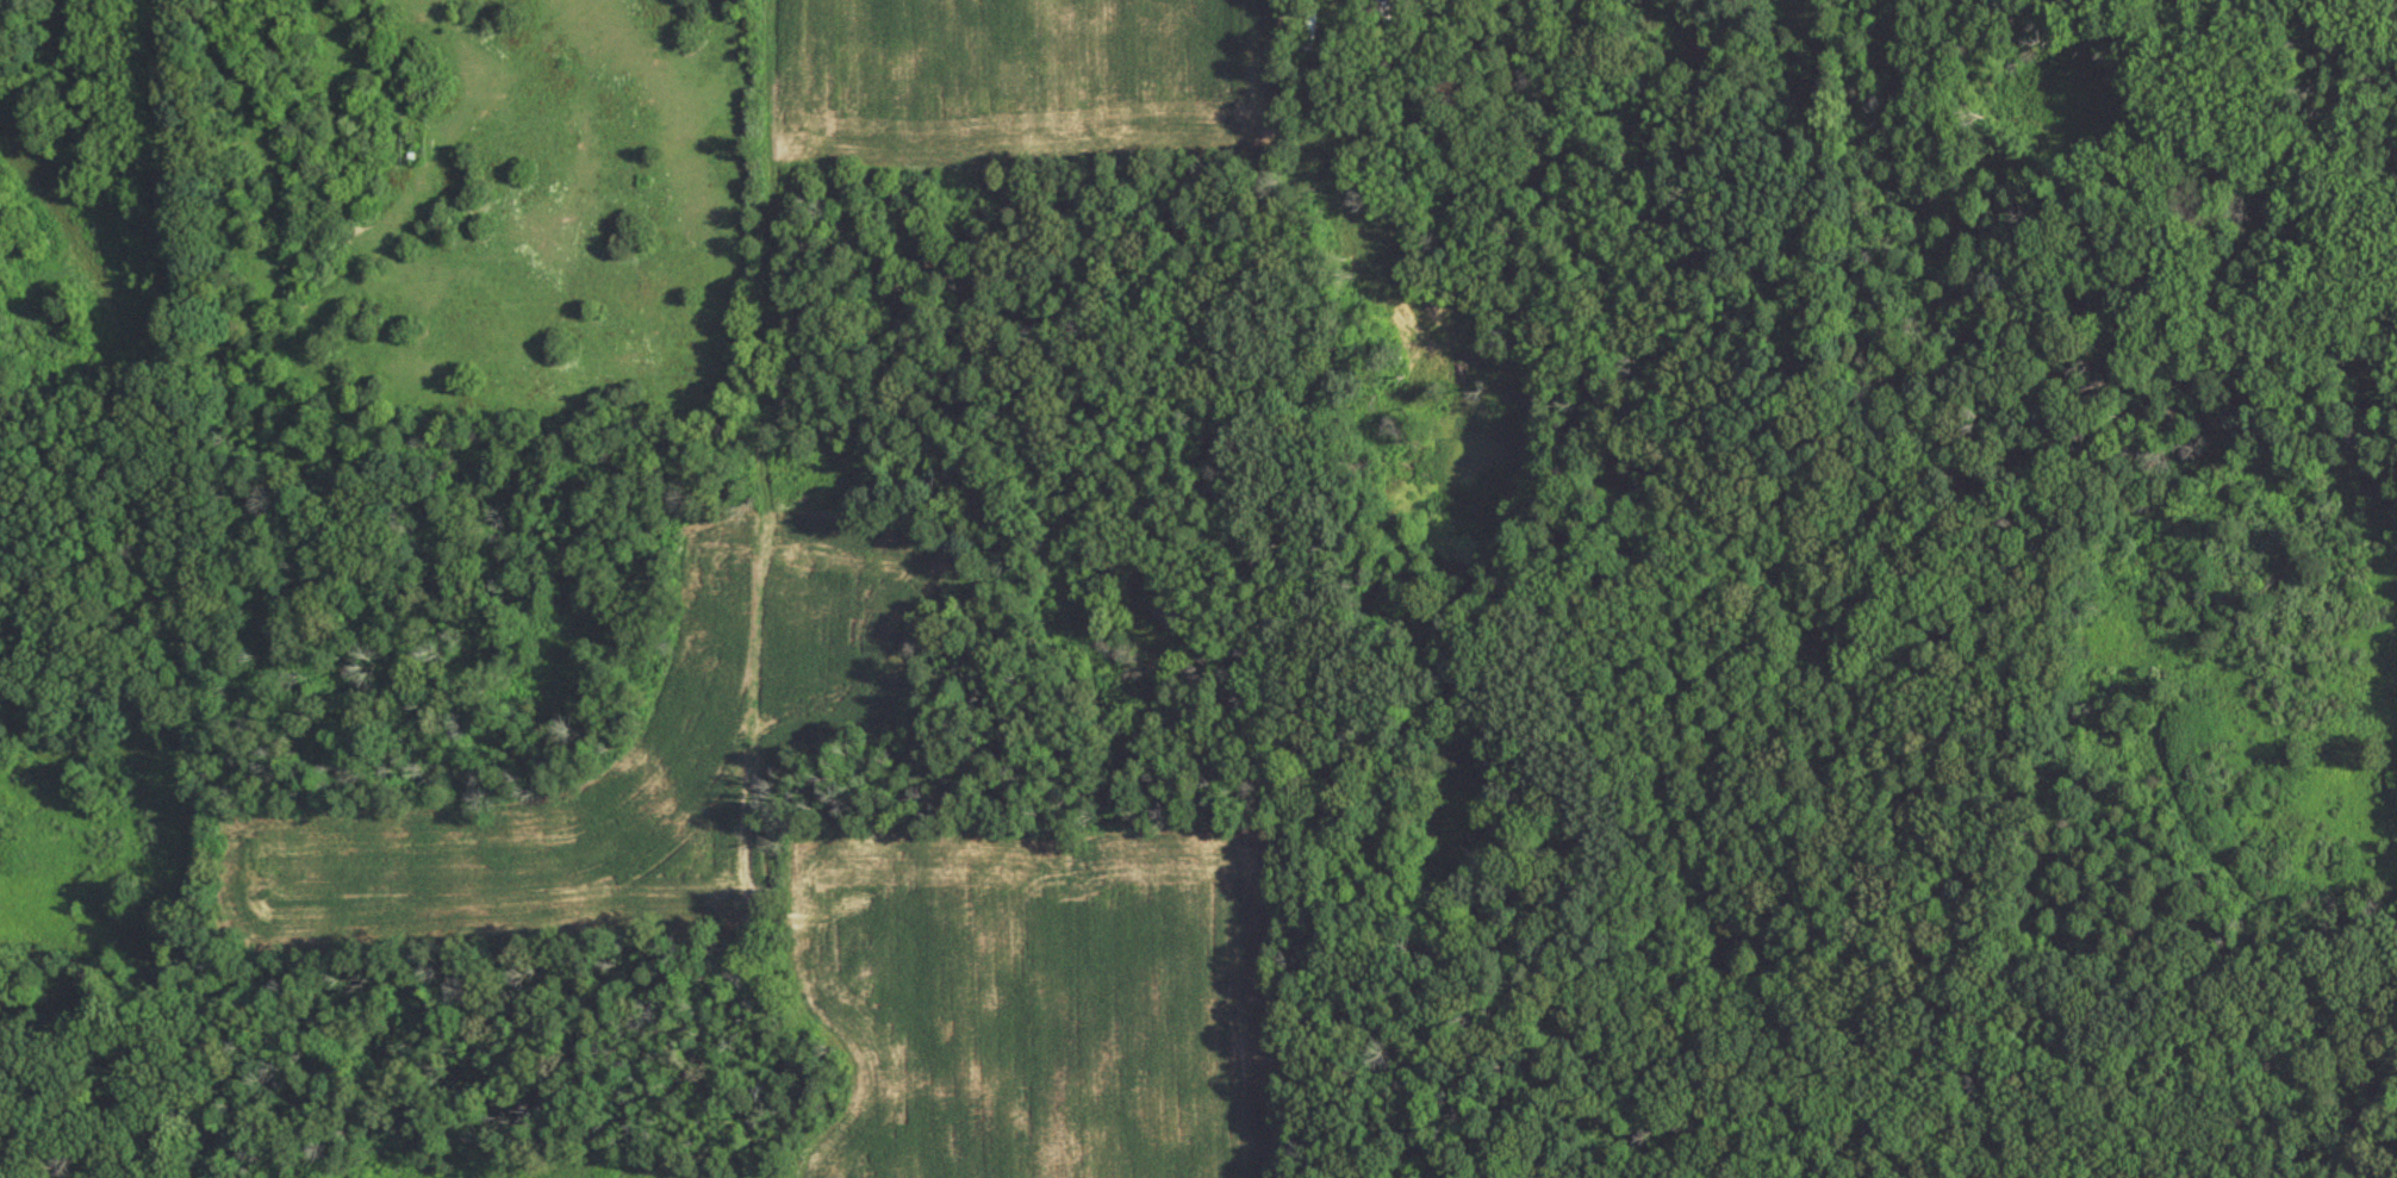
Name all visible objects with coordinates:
road: (518, 73)
road: (1853, 1018)

